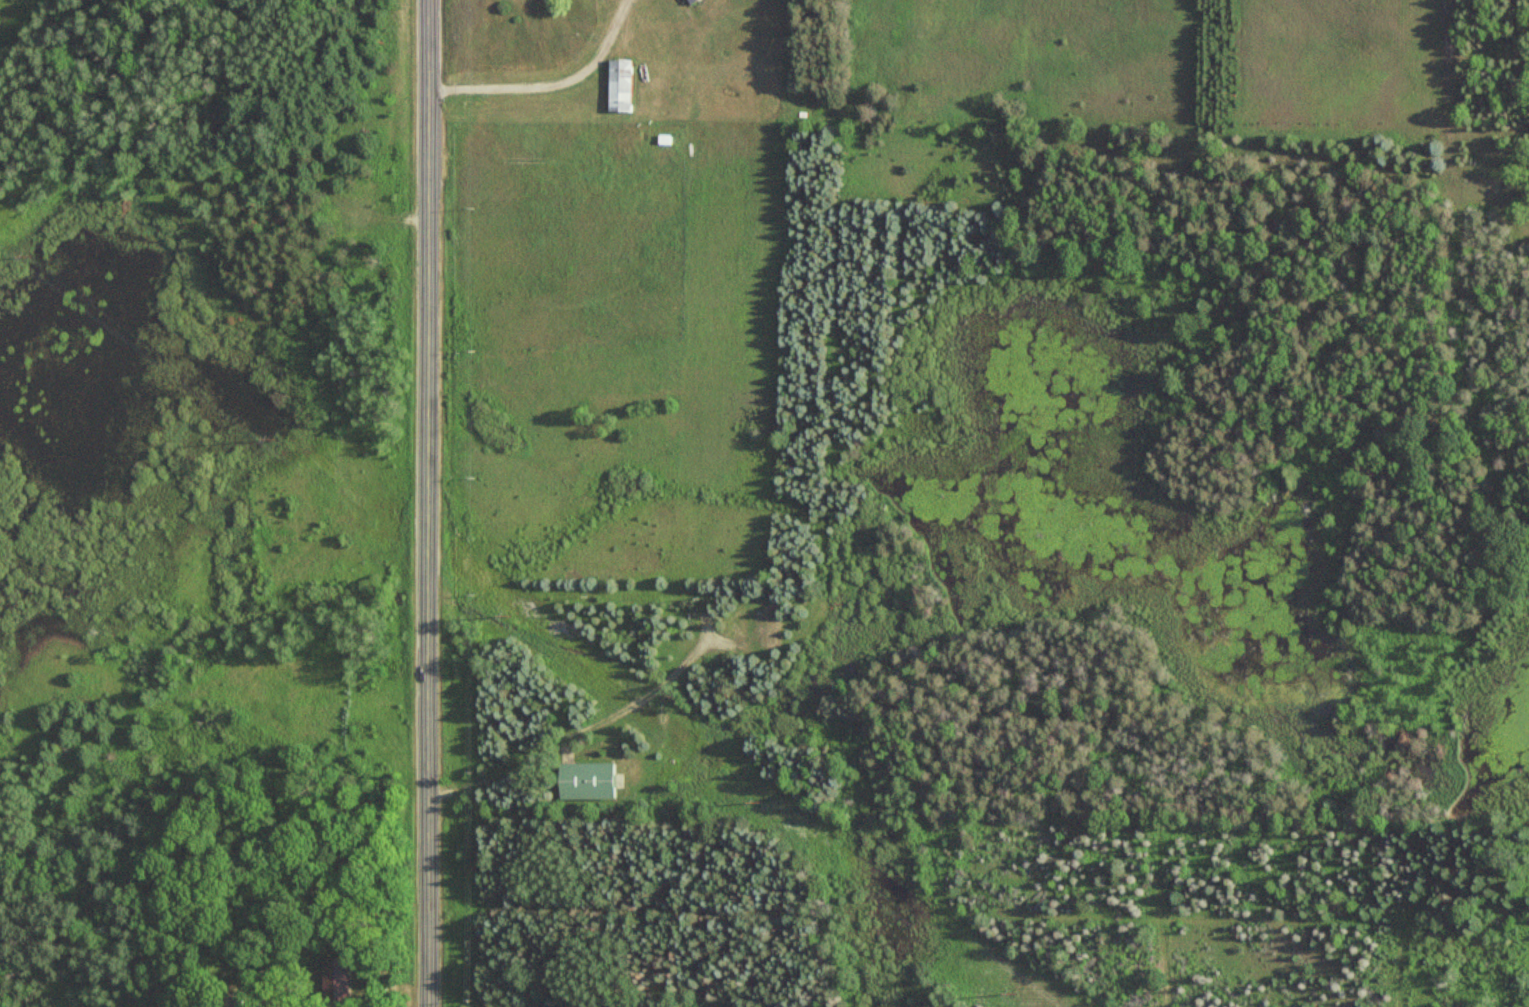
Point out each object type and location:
building: (689, 1)
building: (619, 85)
road: (427, 503)
building: (588, 780)

